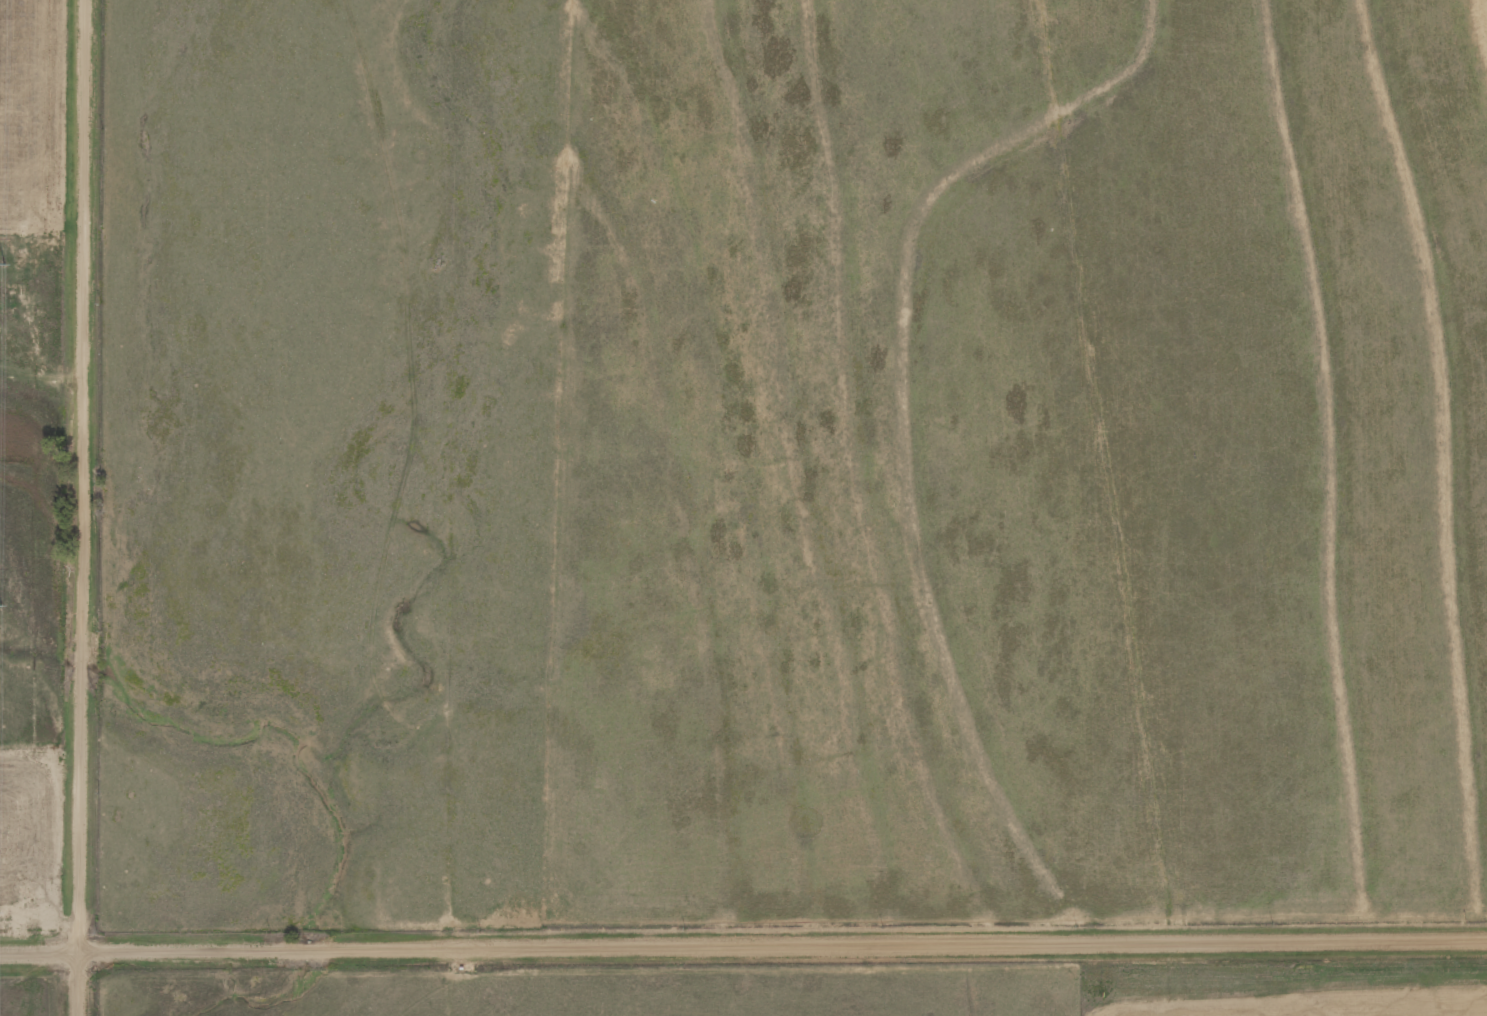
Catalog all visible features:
power tower: (3, 263)
road: (85, 508)
road: (743, 944)

